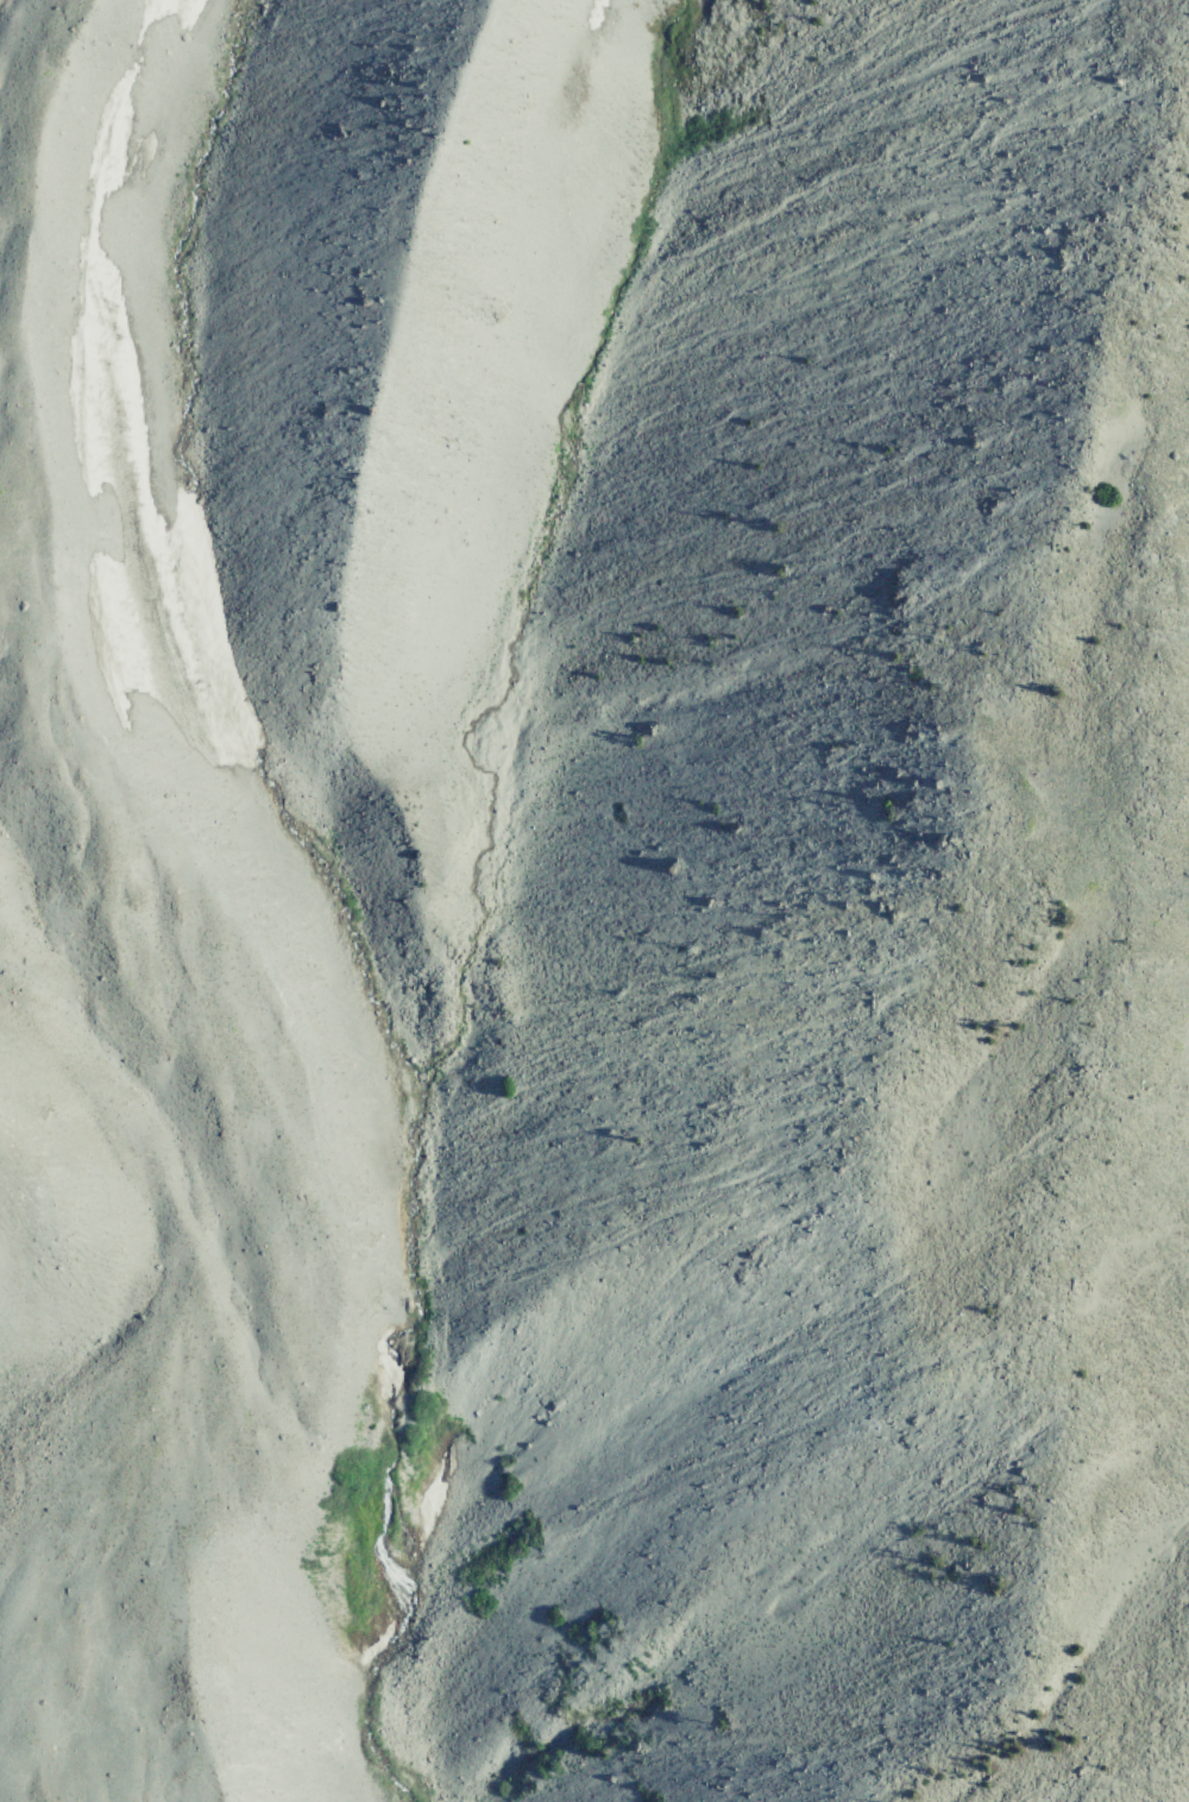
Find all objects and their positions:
ski resort: (1168, 1252)

